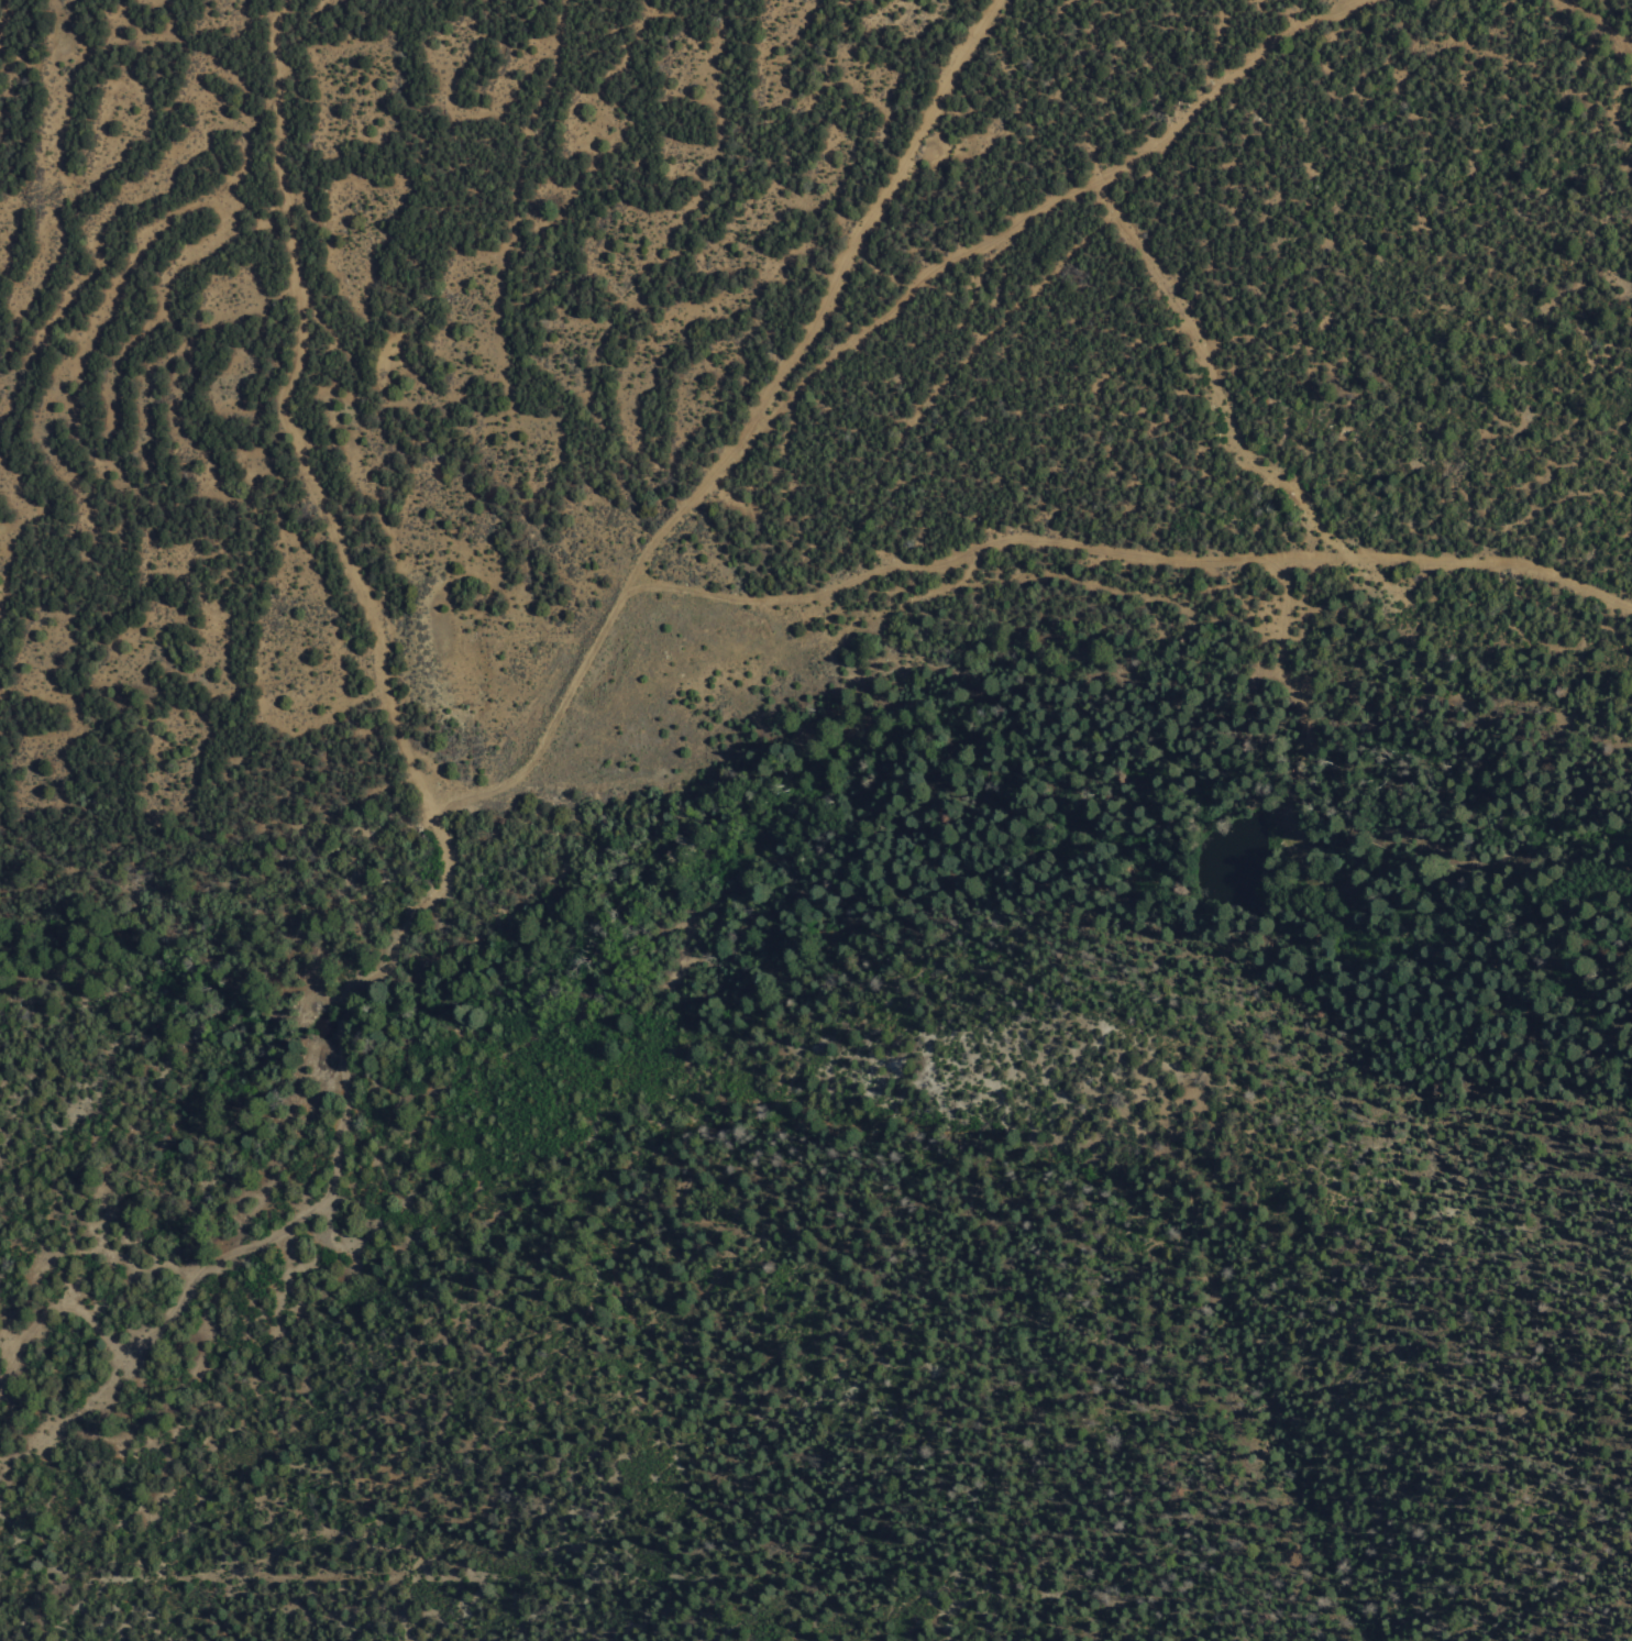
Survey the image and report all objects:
road: (1608, 12)
road: (22, 56)
road: (1088, 183)
road: (509, 672)

